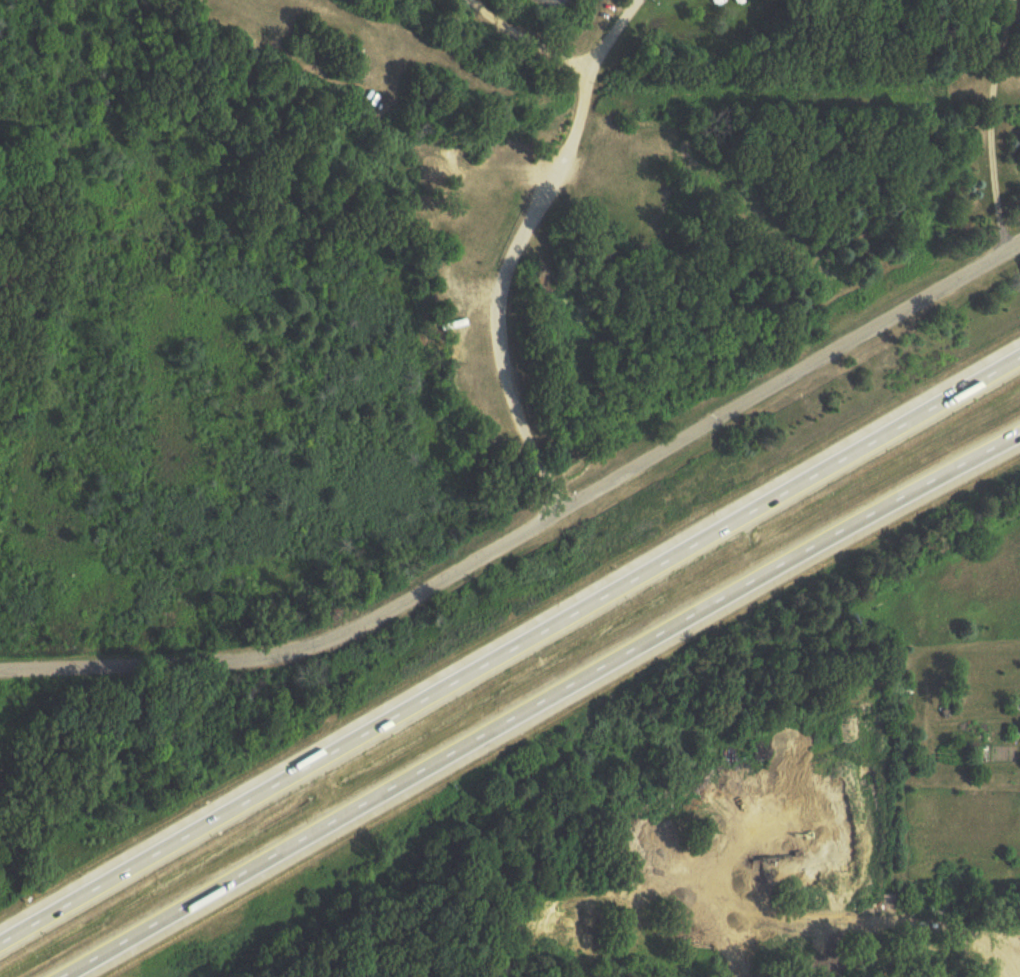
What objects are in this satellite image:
road: (613, 30)
road: (521, 39)
road: (988, 125)
road: (506, 282)
road: (532, 528)
road: (509, 645)
road: (539, 701)

